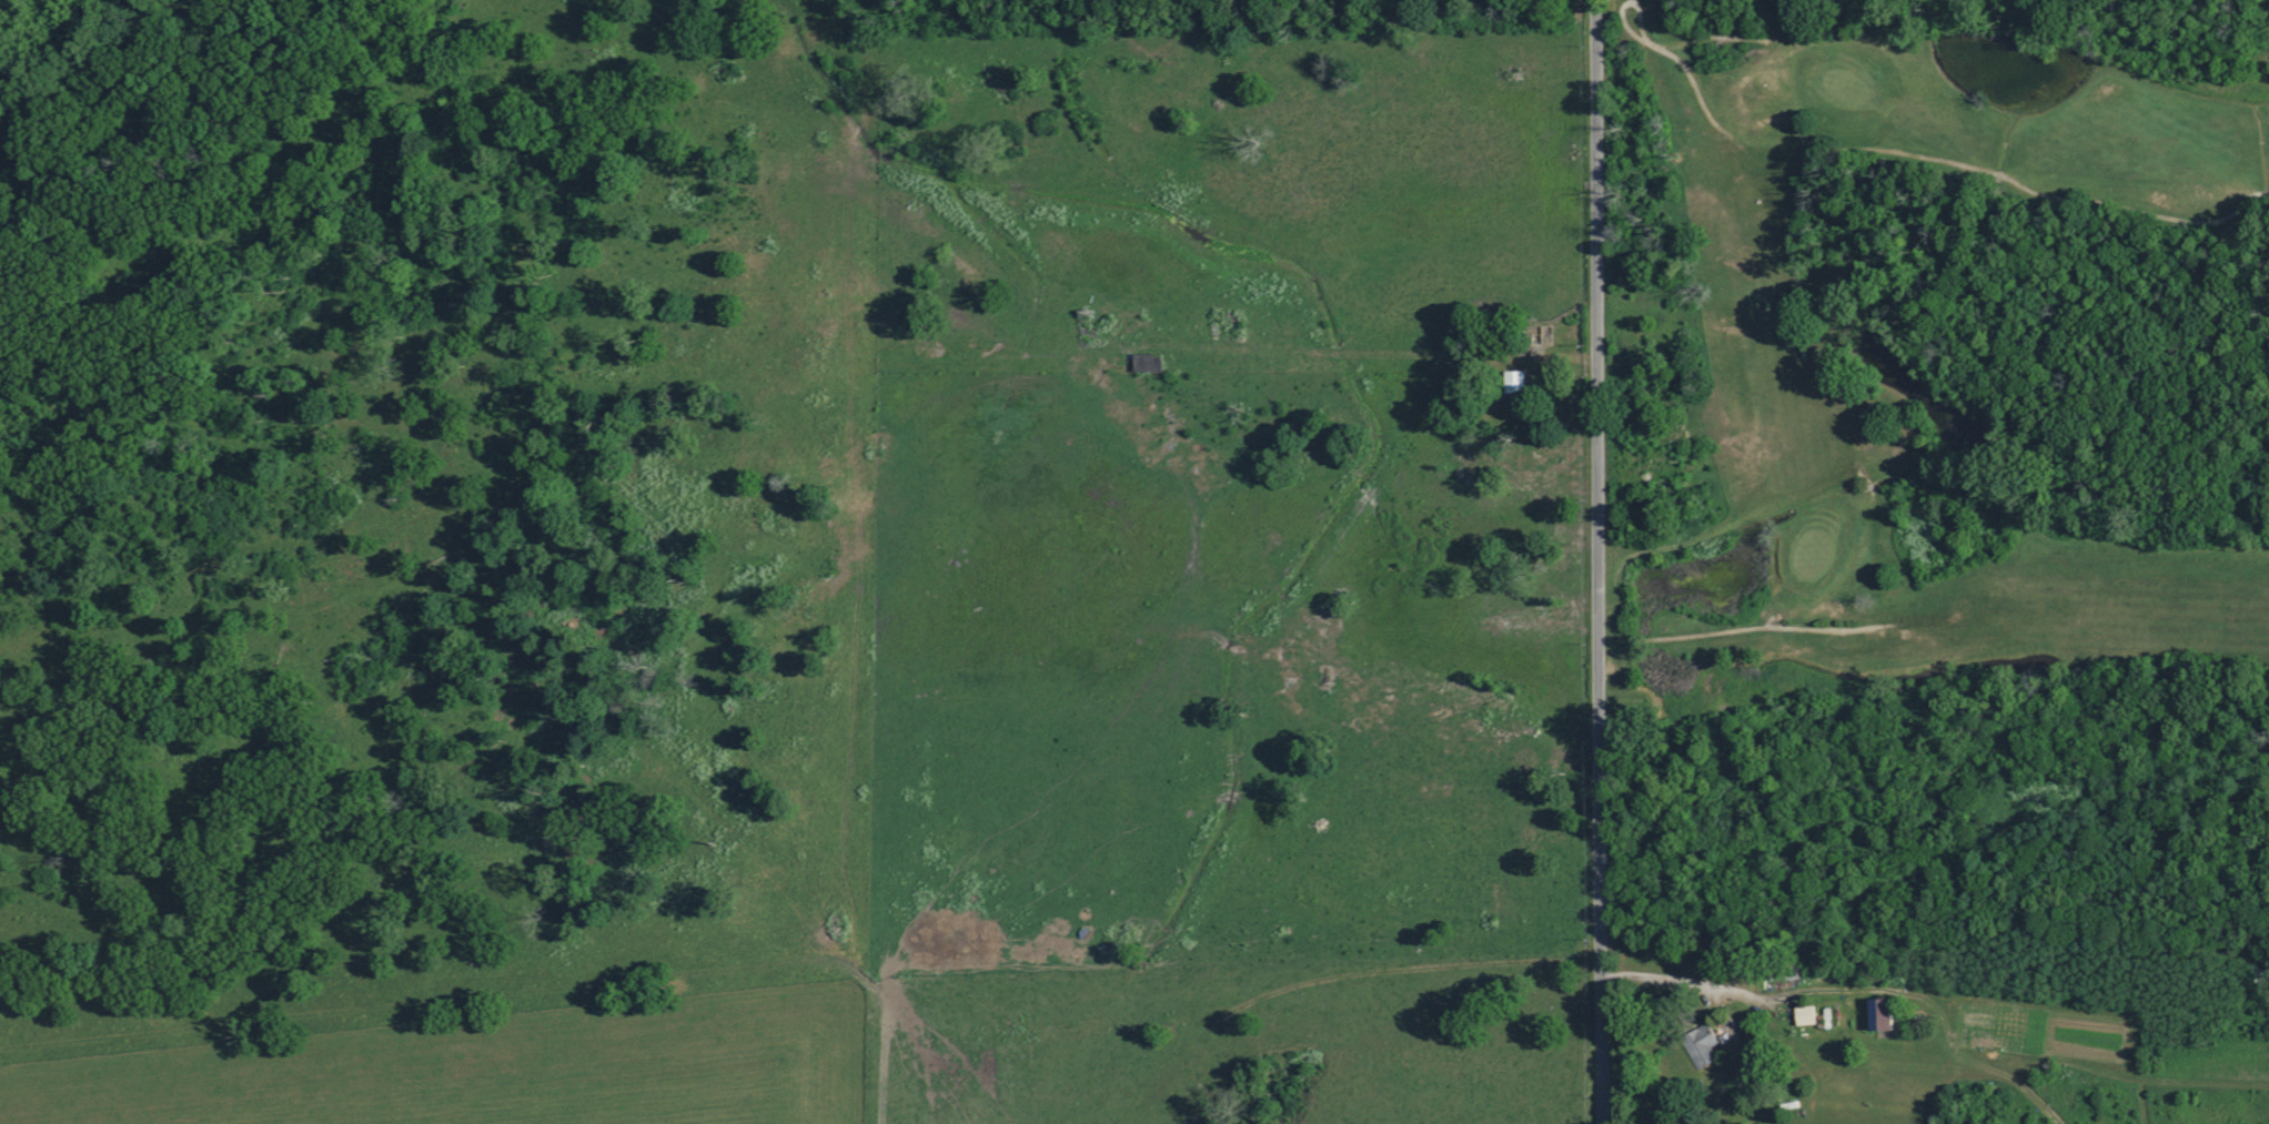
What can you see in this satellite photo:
building: (1150, 362)
building: (1520, 381)
park: (1933, 388)
road: (1595, 561)
road: (1697, 973)
building: (1807, 1015)
building: (1886, 1015)
building: (1708, 1046)

